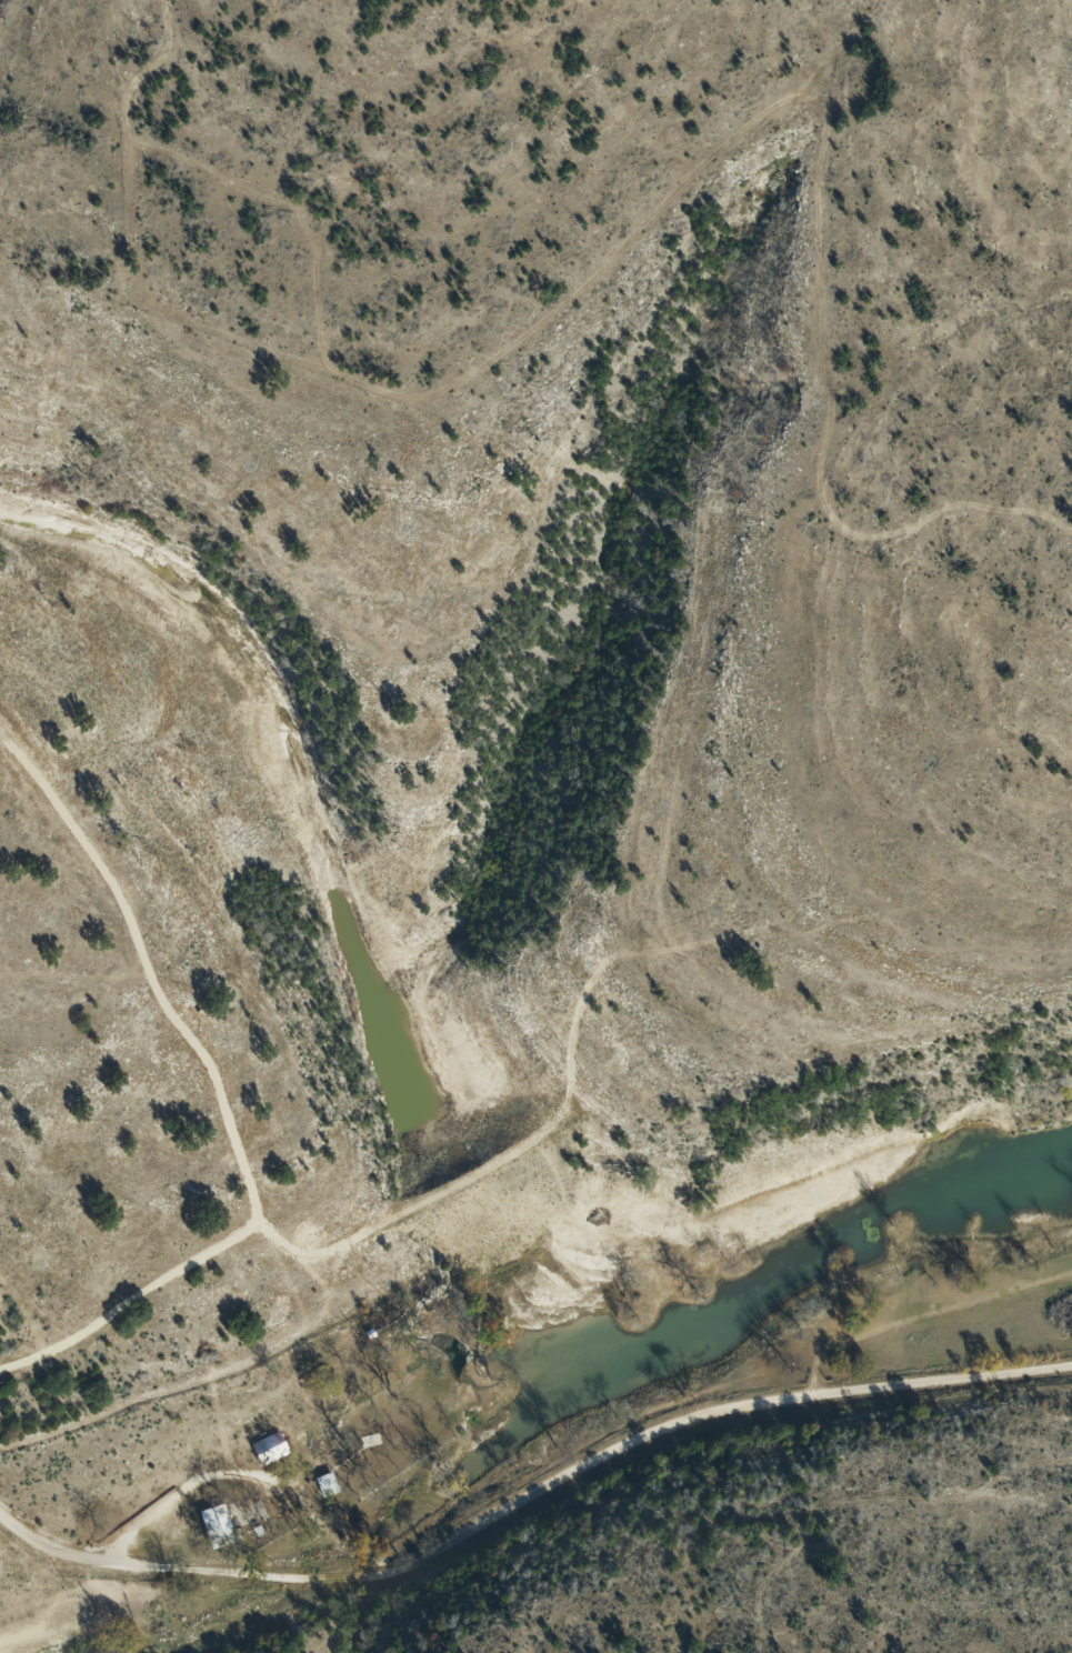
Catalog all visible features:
building: (382, 1431)
building: (271, 1449)
building: (328, 1485)
building: (218, 1524)
road: (902, 1542)
road: (520, 1573)

